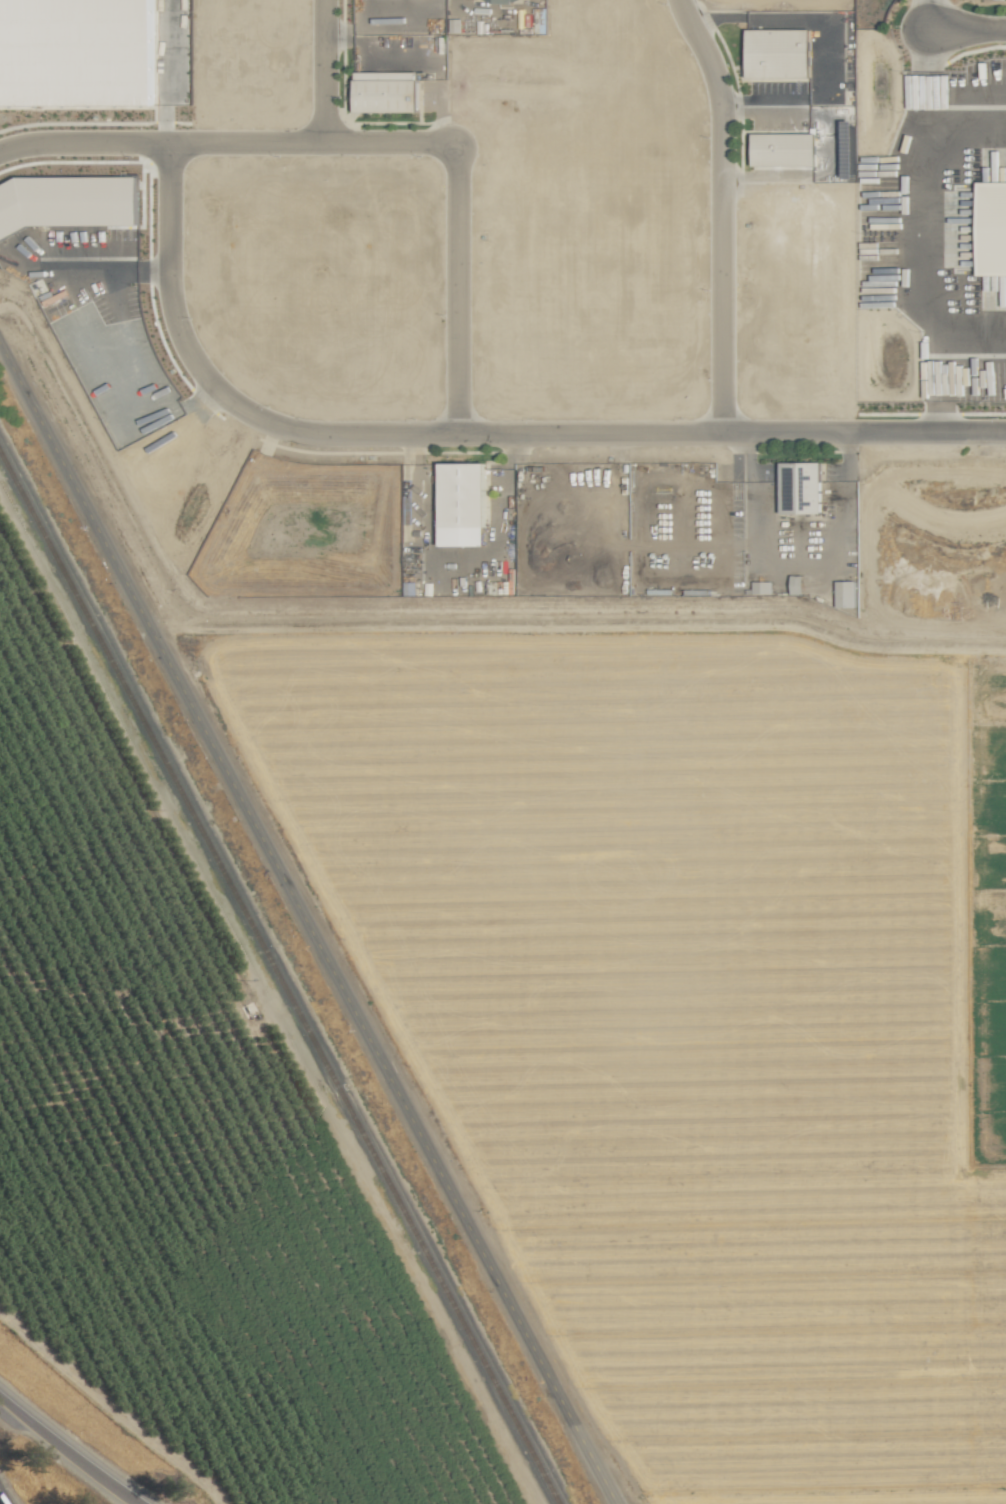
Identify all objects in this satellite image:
road: (925, 14)
road: (966, 29)
building: (117, 32)
building: (778, 54)
road: (320, 70)
building: (385, 92)
road: (927, 120)
road: (222, 141)
building: (783, 151)
building: (67, 200)
road: (720, 212)
building: (991, 229)
road: (169, 275)
road: (933, 284)
road: (453, 292)
road: (970, 355)
road: (605, 434)
building: (800, 486)
building: (462, 502)
road: (793, 560)
building: (797, 584)
building: (760, 586)
building: (844, 593)
road: (306, 927)
railway: (279, 977)
road: (65, 1453)

